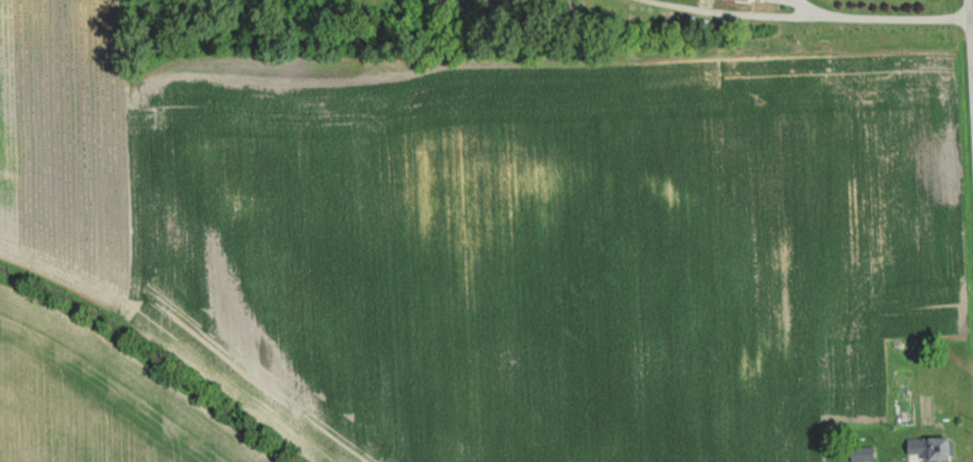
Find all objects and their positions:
building: (740, 0)
road: (886, 12)
building: (921, 447)
building: (855, 454)

